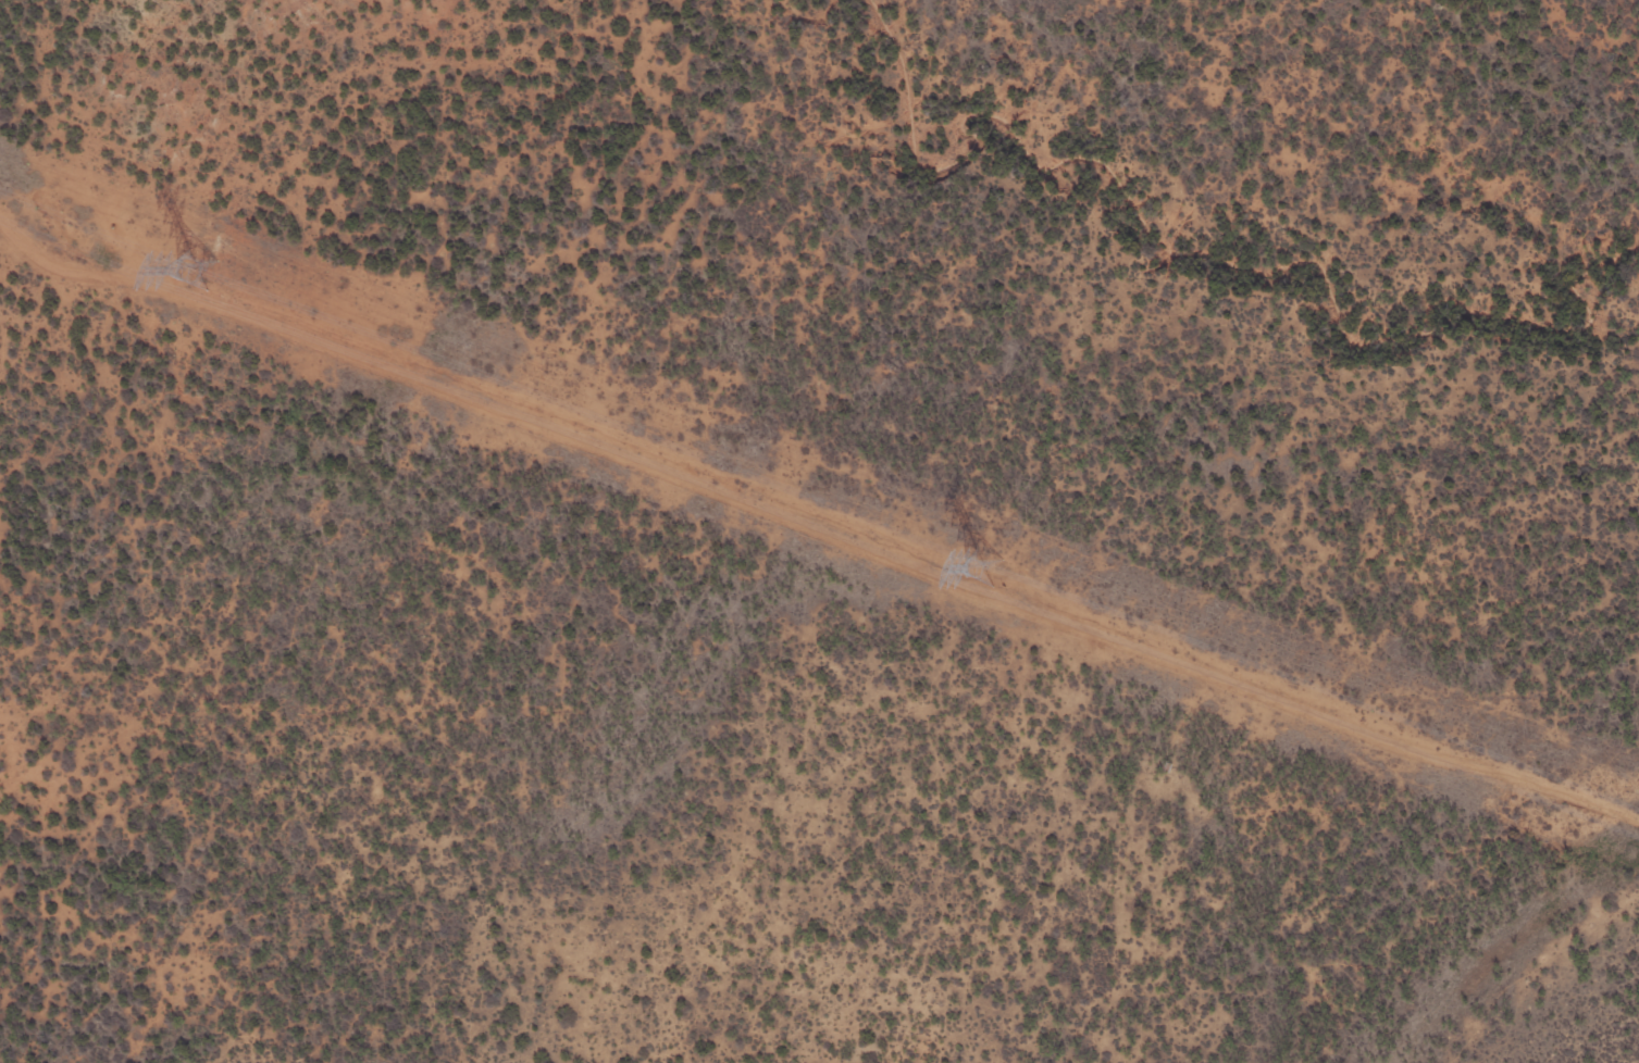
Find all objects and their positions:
power tower: (198, 270)
power tower: (985, 567)

